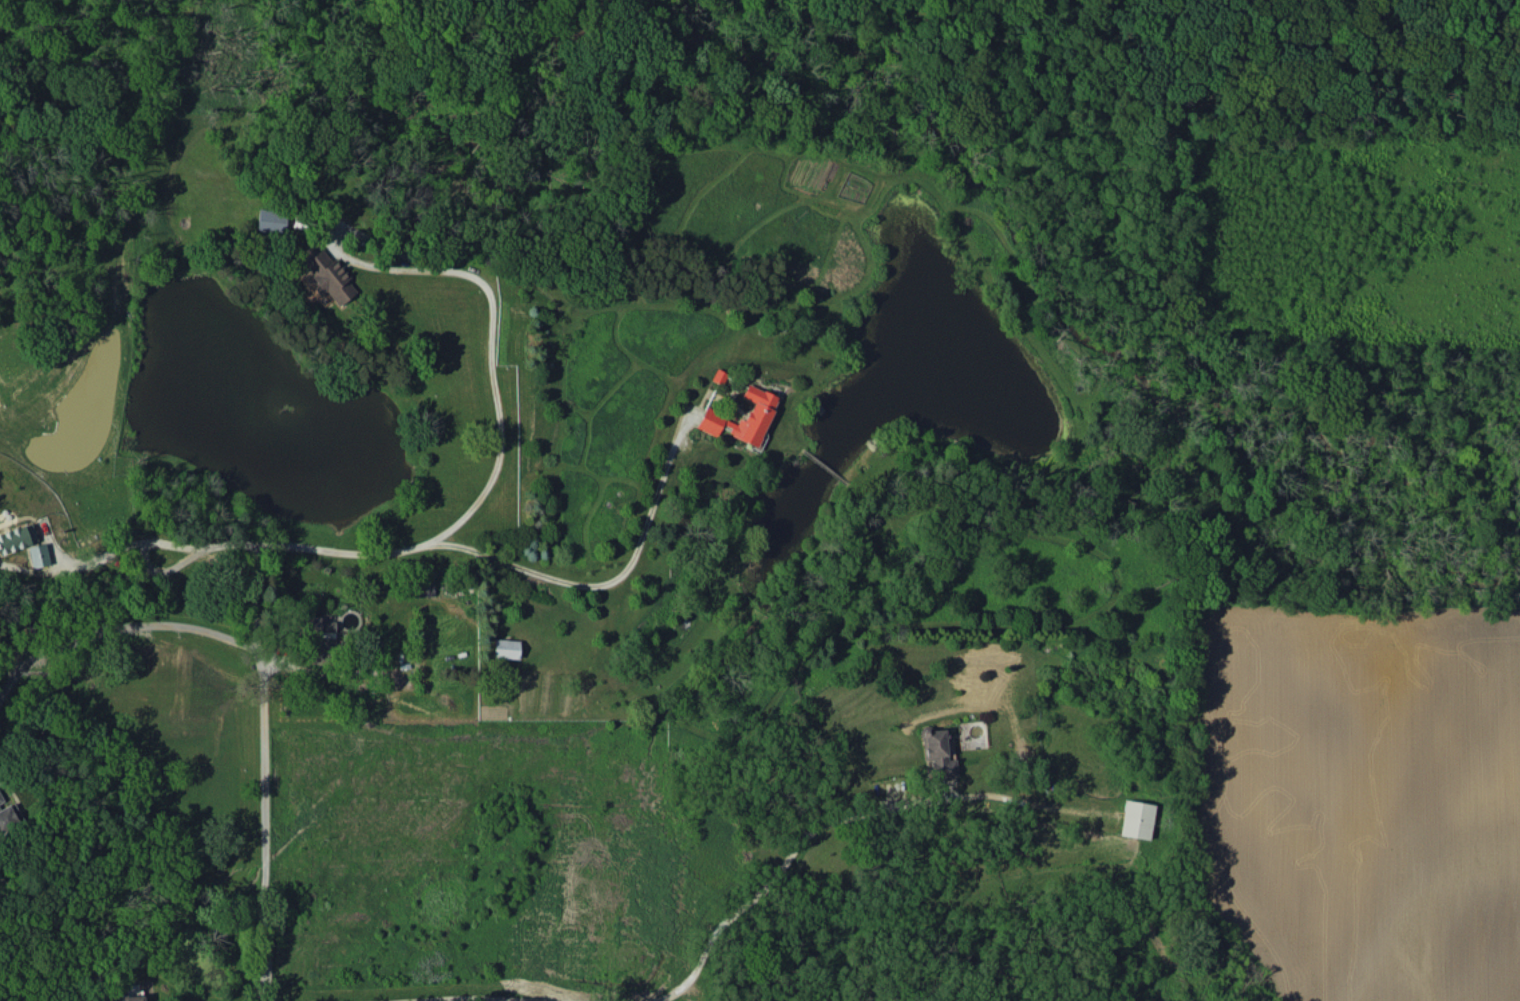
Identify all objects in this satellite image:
building: (270, 220)
building: (326, 273)
building: (757, 415)
road: (497, 456)
building: (17, 538)
road: (155, 540)
building: (38, 554)
road: (608, 584)
road: (115, 624)
building: (321, 640)
building: (505, 648)
road: (315, 672)
building: (937, 752)
road: (257, 770)
building: (9, 815)
building: (1137, 819)
road: (731, 923)
road: (369, 988)
building: (125, 997)

